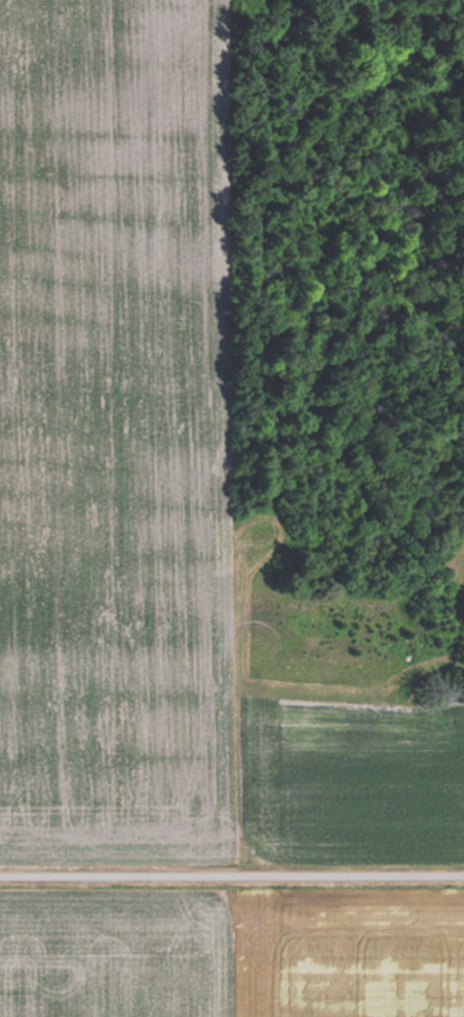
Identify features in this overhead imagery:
road: (232, 874)

